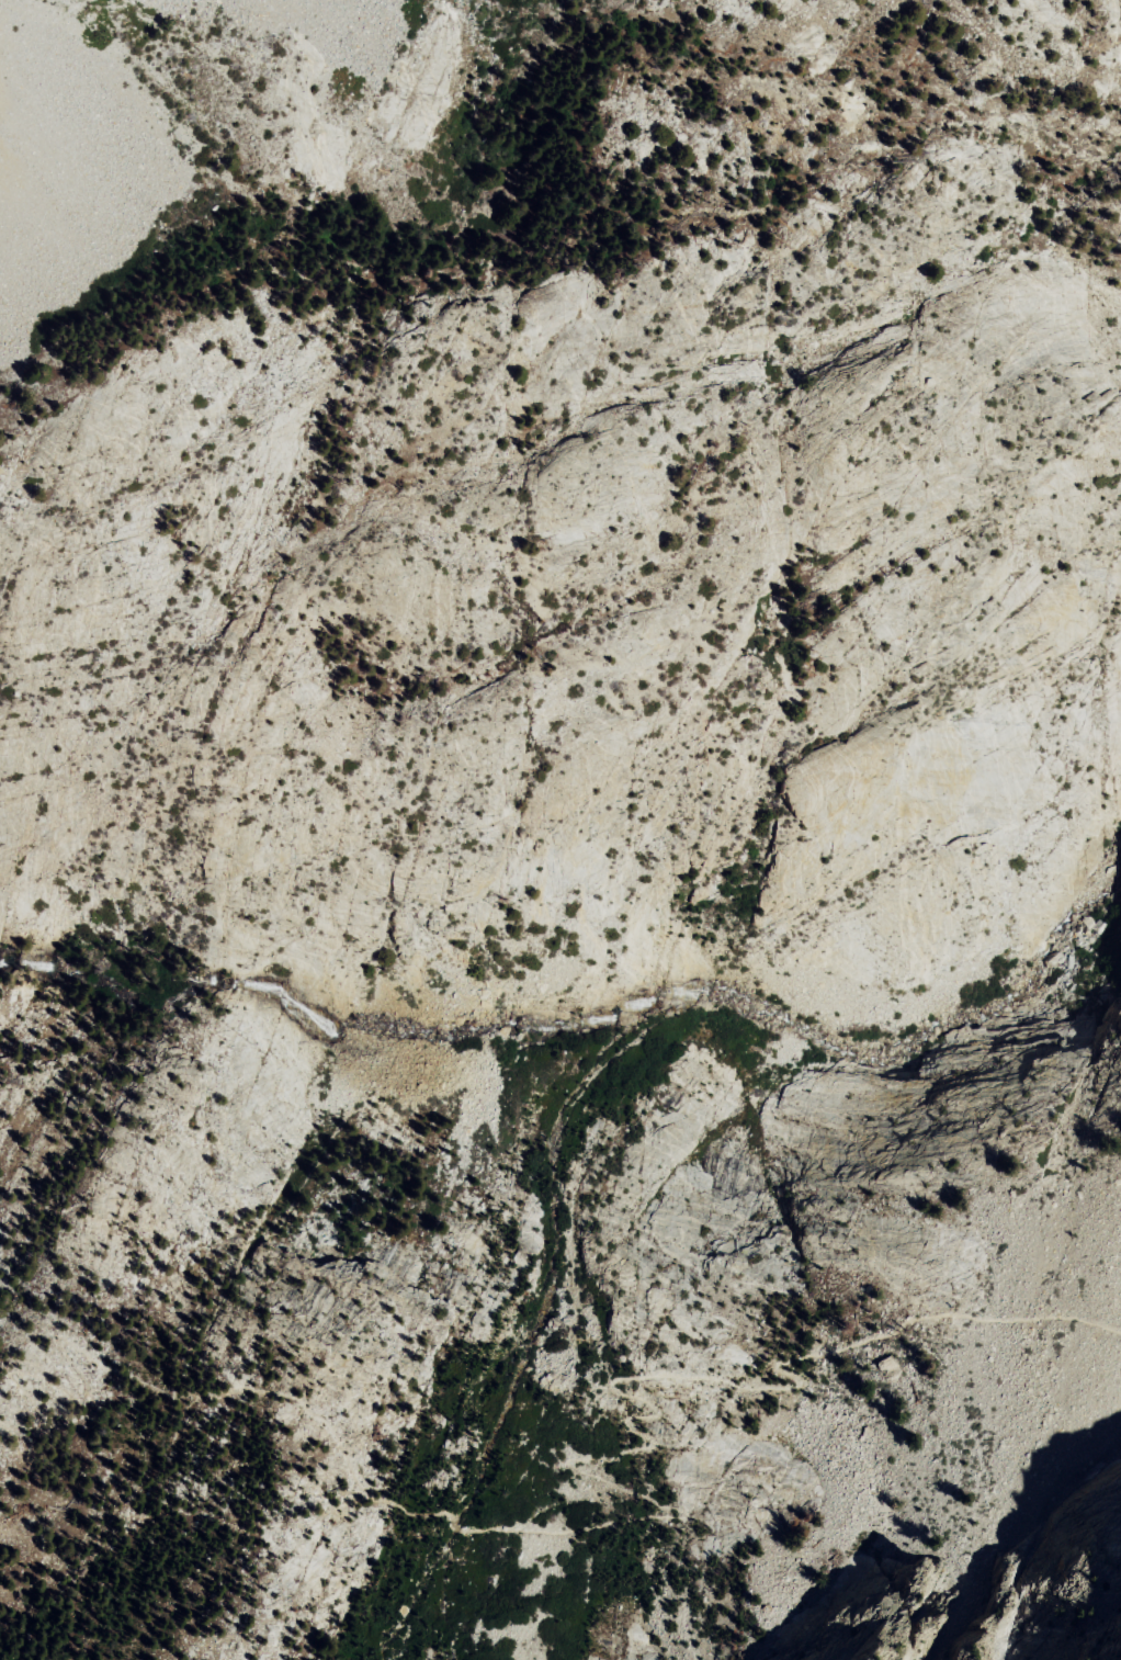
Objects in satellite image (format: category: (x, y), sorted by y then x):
road: (601, 1524)

